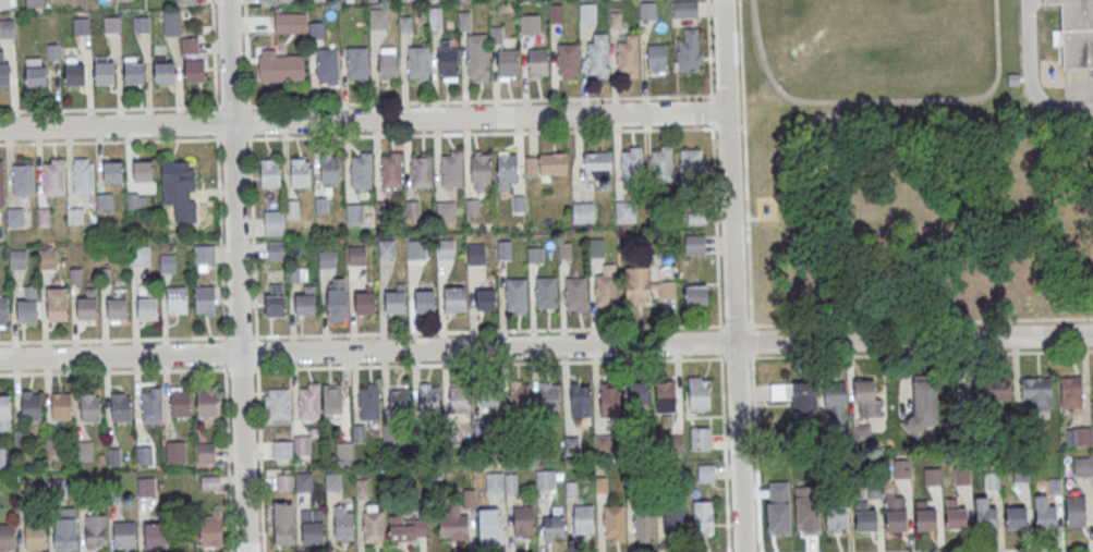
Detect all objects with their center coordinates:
building: (316, 0)
building: (186, 1)
building: (266, 1)
building: (287, 1)
building: (4, 3)
building: (35, 3)
building: (685, 9)
building: (648, 10)
building: (587, 12)
building: (557, 13)
building: (435, 17)
building: (379, 19)
building: (616, 20)
building: (465, 21)
building: (173, 23)
building: (291, 23)
building: (112, 24)
building: (142, 24)
building: (405, 24)
building: (531, 24)
building: (82, 26)
building: (7, 28)
building: (317, 29)
building: (1074, 33)
building: (497, 35)
road: (711, 49)
building: (54, 51)
building: (690, 51)
building: (599, 54)
building: (629, 56)
building: (477, 57)
building: (656, 58)
building: (447, 60)
building: (568, 60)
building: (387, 62)
building: (538, 62)
building: (418, 63)
building: (357, 64)
building: (508, 64)
building: (328, 65)
building: (279, 66)
building: (194, 69)
building: (134, 70)
building: (165, 70)
building: (4, 71)
building: (105, 71)
building: (75, 72)
building: (36, 73)
road: (1032, 77)
building: (1013, 81)
road: (1062, 81)
road: (883, 100)
road: (486, 102)
road: (123, 108)
road: (713, 113)
road: (362, 121)
road: (727, 128)
road: (742, 128)
road: (481, 133)
road: (122, 139)
building: (598, 161)
road: (745, 163)
building: (554, 164)
building: (663, 164)
building: (693, 164)
building: (632, 165)
building: (330, 168)
road: (217, 169)
road: (251, 169)
building: (451, 169)
building: (391, 170)
building: (482, 170)
building: (507, 170)
building: (144, 171)
building: (361, 171)
building: (422, 171)
building: (114, 172)
building: (171, 172)
building: (270, 173)
building: (300, 173)
building: (84, 176)
building: (54, 177)
building: (23, 179)
building: (2, 185)
building: (105, 201)
building: (519, 204)
building: (321, 206)
building: (653, 206)
building: (472, 207)
building: (292, 208)
building: (412, 209)
building: (446, 211)
building: (626, 211)
building: (583, 212)
building: (354, 213)
park: (922, 214)
building: (75, 216)
building: (15, 218)
building: (45, 218)
building: (274, 223)
road: (716, 228)
building: (695, 244)
building: (446, 248)
building: (596, 248)
building: (276, 249)
building: (387, 249)
building: (505, 249)
building: (416, 250)
building: (566, 250)
building: (204, 254)
building: (476, 254)
building: (536, 255)
building: (139, 256)
building: (356, 256)
building: (47, 258)
building: (19, 259)
building: (327, 259)
building: (168, 263)
building: (106, 275)
road: (235, 275)
road: (732, 275)
building: (75, 277)
building: (641, 284)
building: (607, 291)
building: (547, 292)
building: (575, 293)
building: (517, 295)
building: (697, 295)
building: (396, 298)
building: (178, 299)
building: (275, 299)
building: (337, 299)
building: (456, 299)
building: (486, 299)
building: (205, 300)
building: (425, 300)
building: (306, 302)
building: (366, 302)
building: (29, 305)
building: (58, 305)
building: (88, 305)
building: (119, 305)
building: (149, 305)
building: (3, 311)
road: (921, 322)
road: (736, 327)
road: (488, 332)
road: (241, 338)
road: (112, 340)
road: (720, 341)
road: (752, 341)
road: (546, 346)
road: (224, 352)
road: (257, 352)
road: (922, 355)
road: (738, 357)
road: (489, 363)
road: (240, 368)
road: (113, 370)
building: (995, 388)
building: (1035, 391)
building: (1071, 391)
building: (639, 392)
building: (518, 393)
building: (699, 393)
building: (488, 395)
building: (794, 395)
building: (428, 396)
building: (548, 396)
building: (665, 396)
building: (867, 397)
building: (331, 400)
building: (399, 400)
building: (459, 400)
building: (580, 400)
building: (609, 400)
building: (206, 402)
building: (835, 402)
building: (180, 403)
building: (308, 403)
building: (367, 403)
building: (923, 403)
building: (277, 404)
building: (153, 405)
building: (31, 406)
building: (60, 406)
building: (121, 407)
building: (90, 408)
building: (4, 412)
building: (861, 433)
building: (1078, 436)
building: (700, 438)
building: (570, 444)
building: (83, 450)
building: (175, 452)
road: (756, 452)
building: (205, 453)
building: (343, 453)
road: (725, 453)
building: (144, 454)
building: (2, 457)
road: (228, 458)
road: (259, 458)
building: (1082, 466)
building: (706, 473)
building: (544, 478)
building: (332, 482)
building: (510, 482)
building: (145, 486)
building: (361, 489)
building: (1076, 512)
building: (1045, 513)
building: (985, 514)
building: (703, 517)
building: (956, 517)
building: (1017, 517)
building: (673, 518)
building: (837, 518)
building: (583, 519)
building: (897, 519)
building: (926, 519)
building: (867, 520)
building: (452, 522)
building: (523, 522)
building: (612, 523)
building: (283, 524)
building: (343, 524)
building: (488, 525)
building: (643, 525)
building: (312, 527)
building: (373, 527)
building: (406, 527)
building: (554, 528)
building: (95, 531)
building: (210, 531)
building: (125, 536)
building: (8, 537)
building: (35, 537)
building: (68, 537)
building: (155, 537)
road: (1037, 551)

